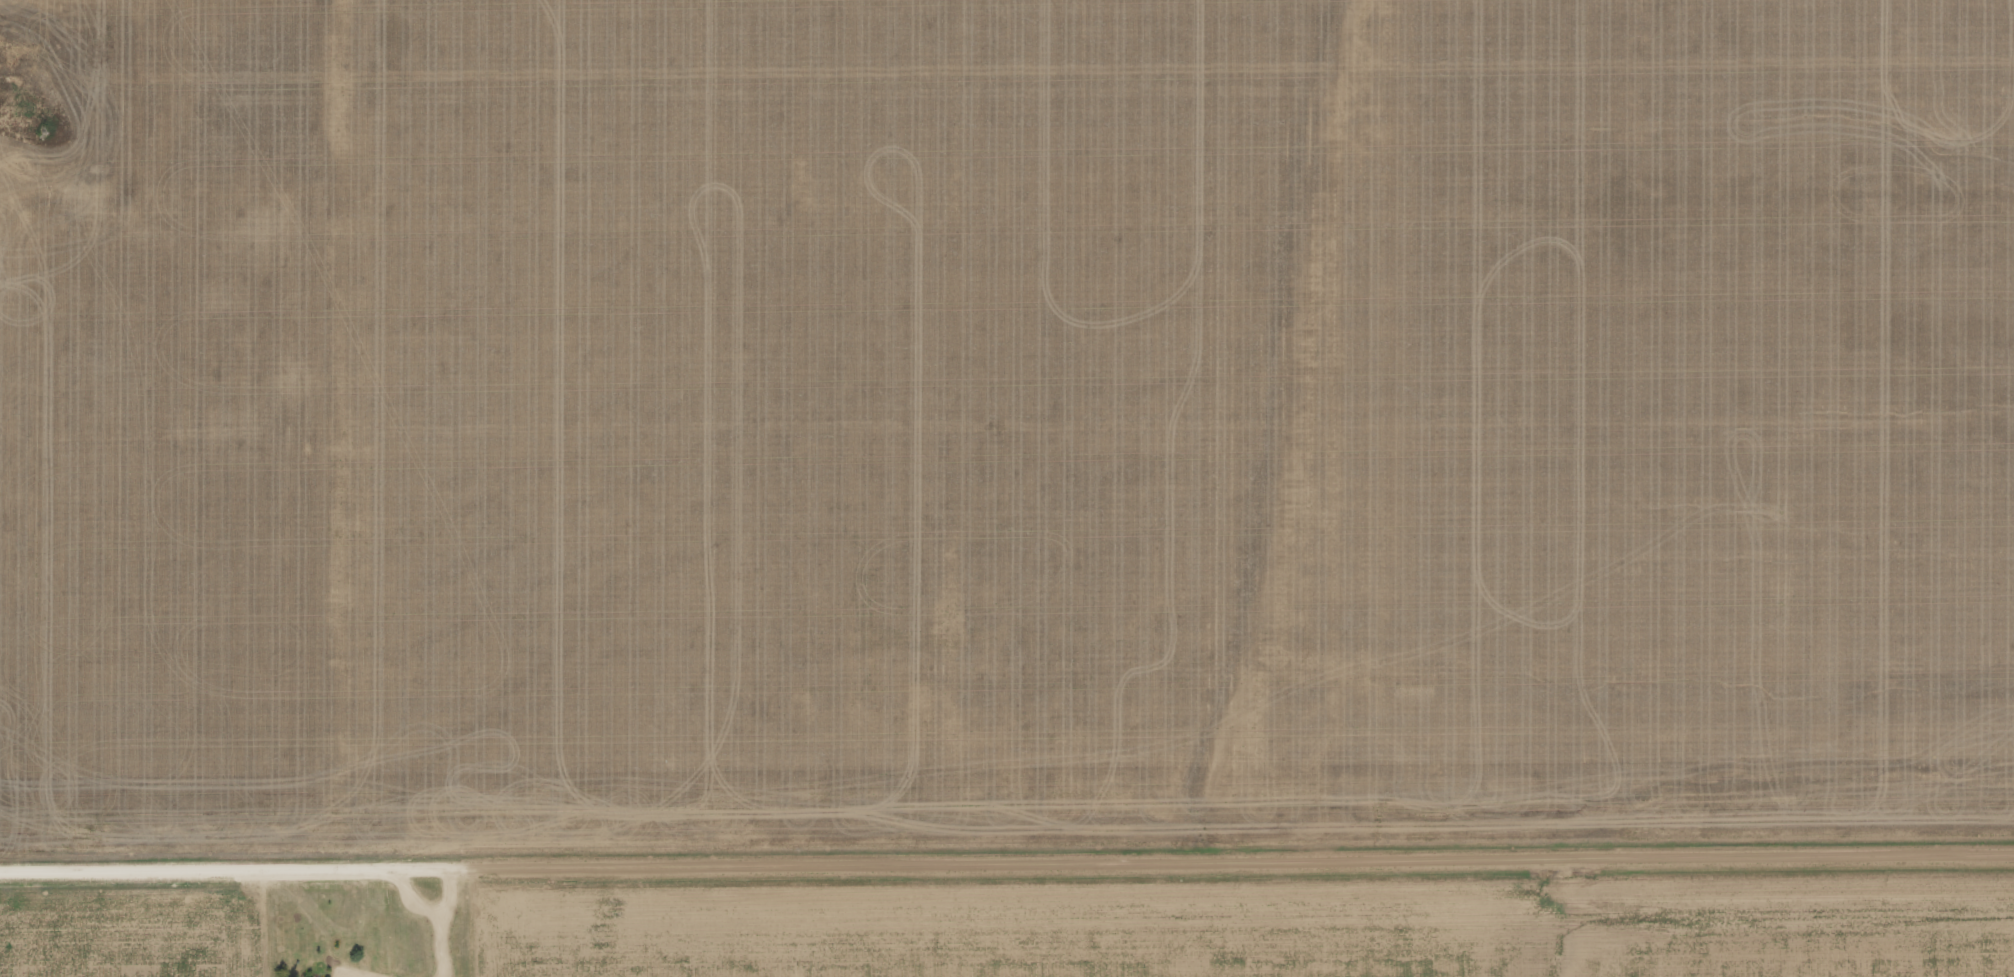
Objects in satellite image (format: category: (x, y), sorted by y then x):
road: (1007, 862)

